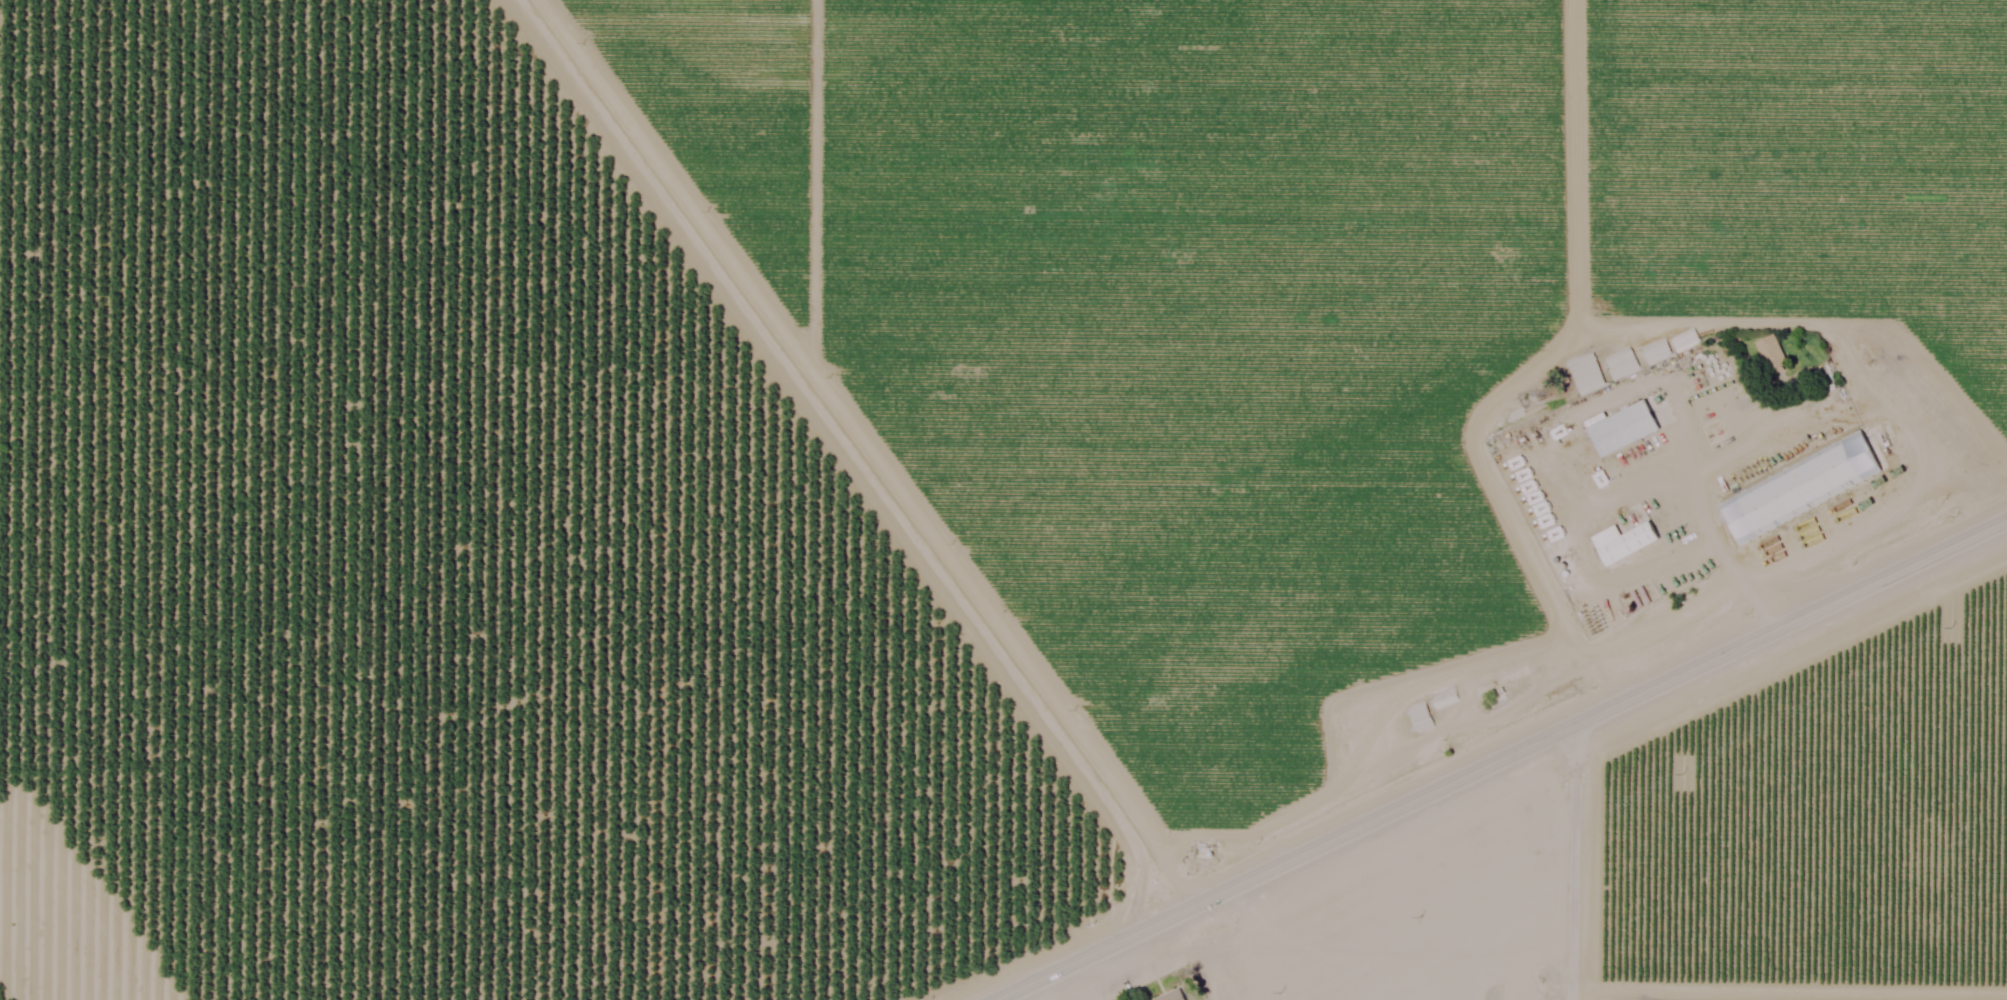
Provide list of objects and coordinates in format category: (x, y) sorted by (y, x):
crop: (1313, 292)
building: (1772, 352)
building: (1622, 426)
road: (1775, 433)
building: (1800, 485)
road: (800, 501)
building: (1624, 541)
road: (1464, 744)
building: (1172, 995)

